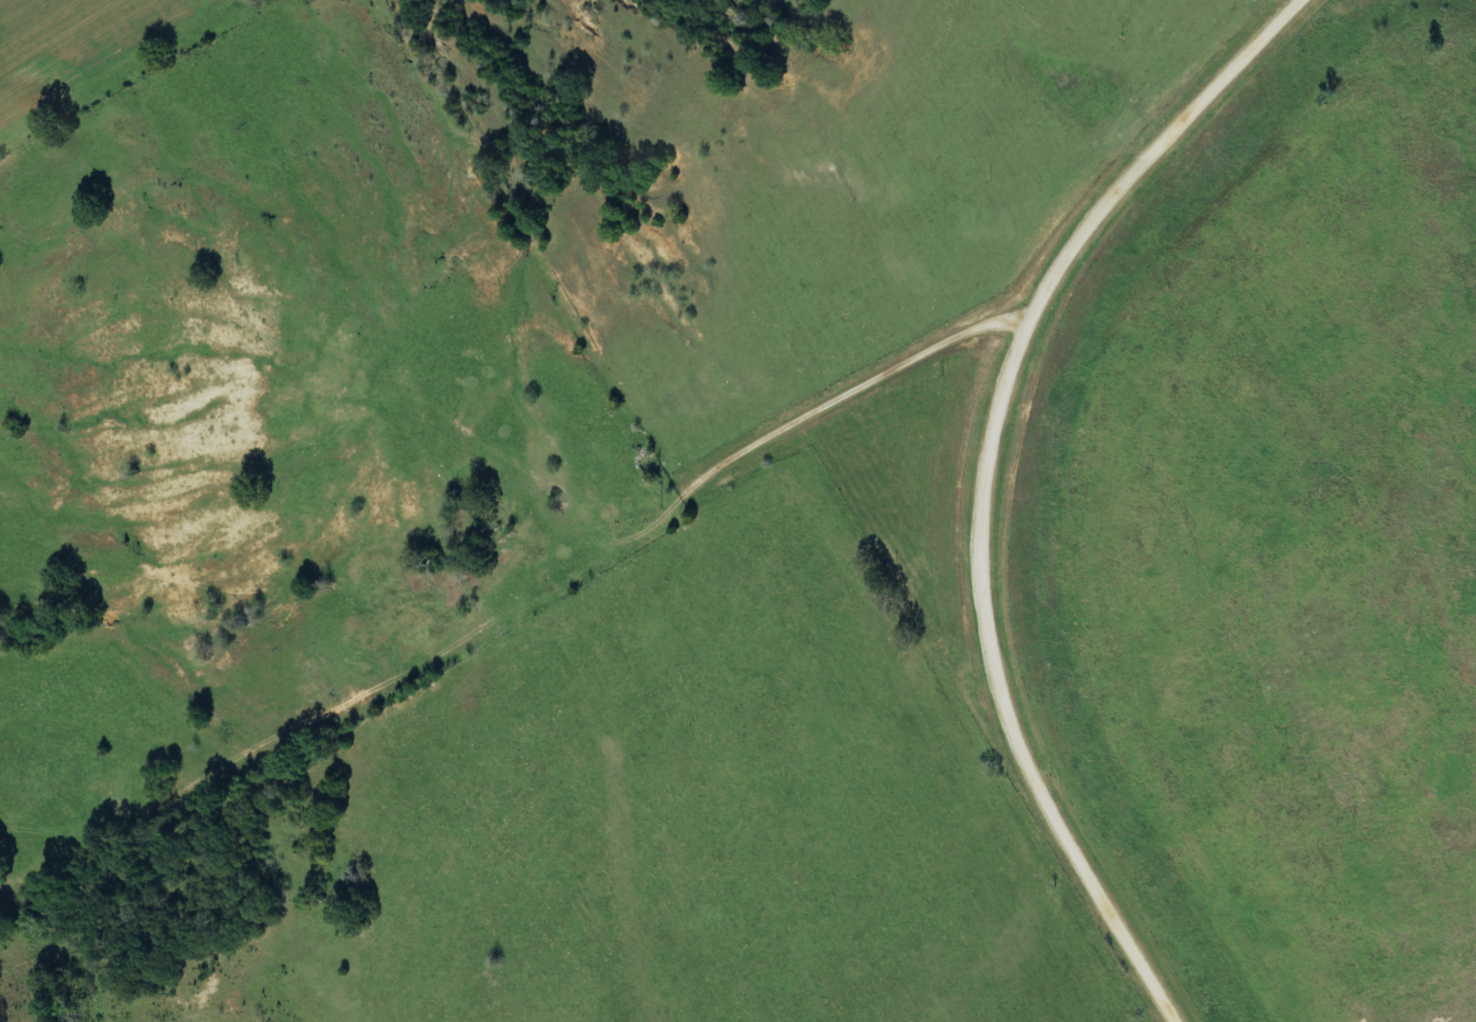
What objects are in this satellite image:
road: (987, 481)

